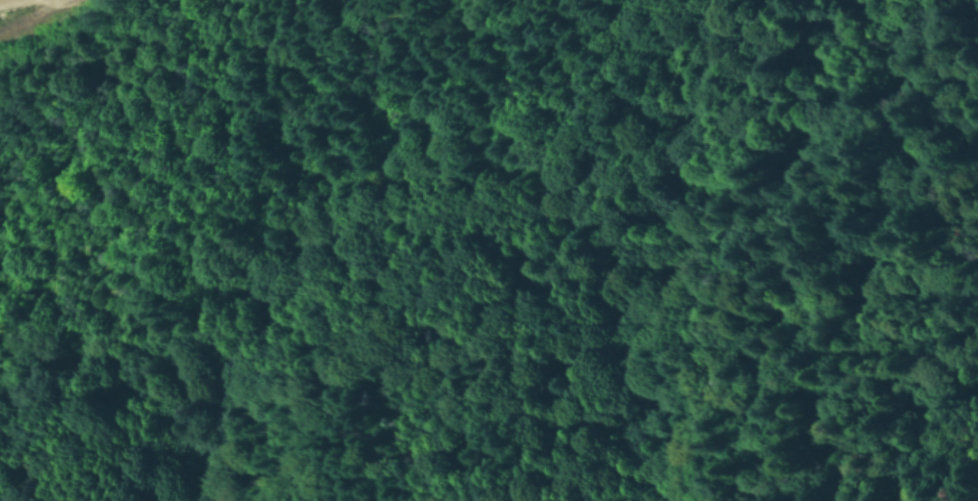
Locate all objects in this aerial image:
road: (22, 4)
road: (25, 16)

